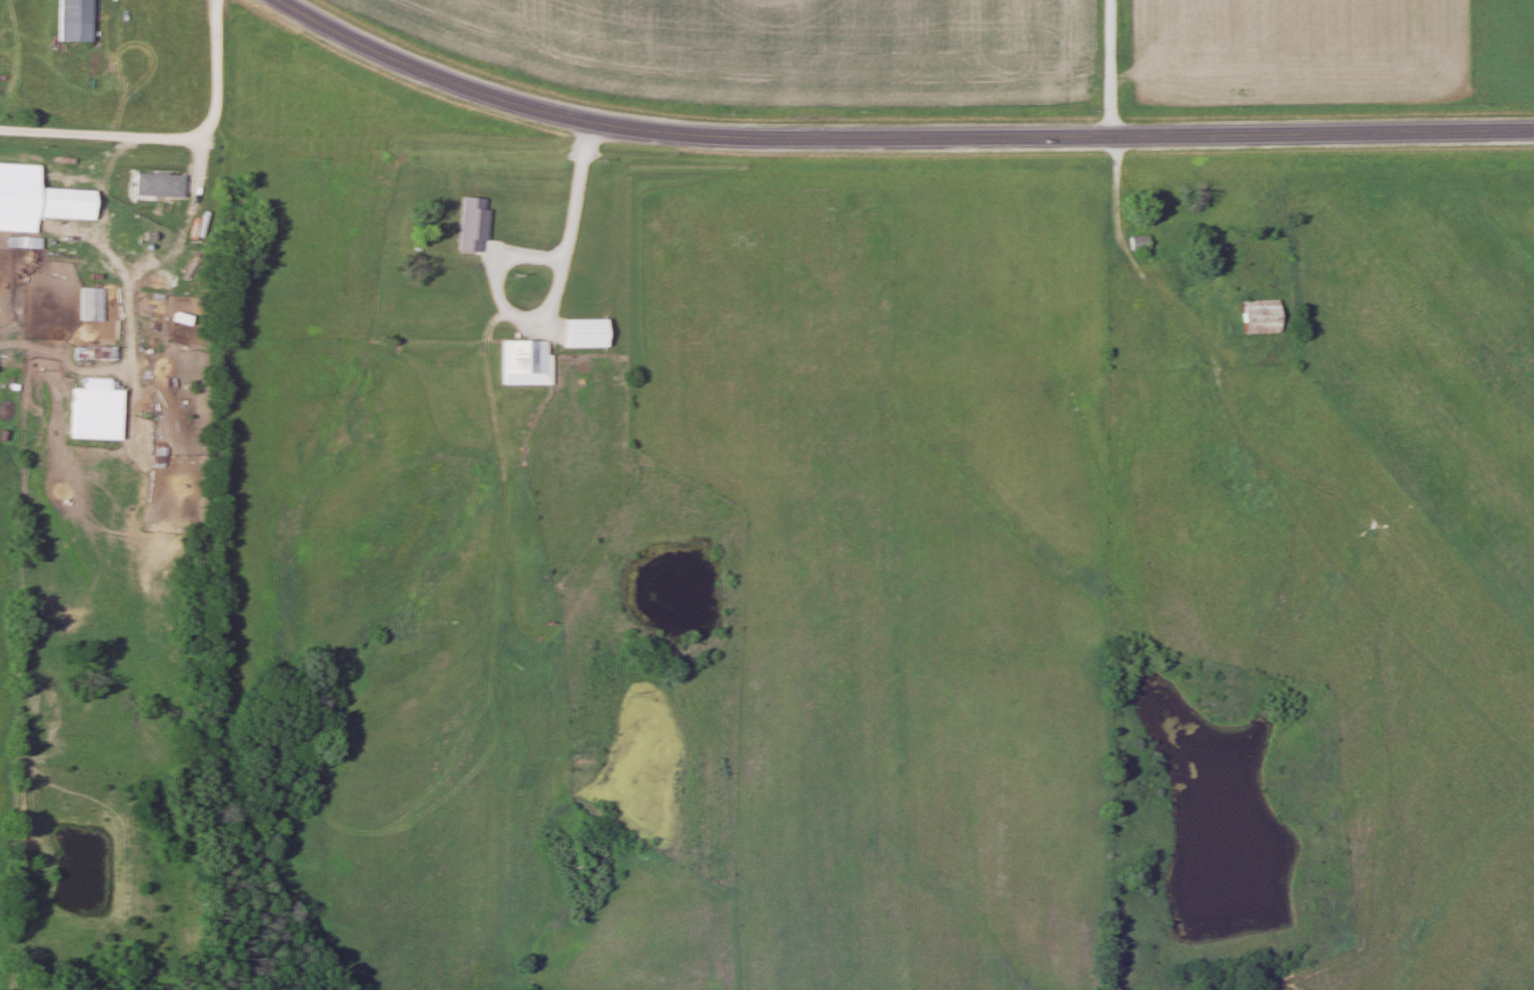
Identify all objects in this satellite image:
building: (69, 20)
road: (1112, 68)
road: (171, 137)
road: (896, 137)
building: (153, 184)
building: (60, 203)
building: (435, 210)
building: (21, 242)
building: (1133, 242)
building: (87, 304)
building: (1257, 316)
building: (580, 333)
building: (521, 362)
building: (154, 454)

